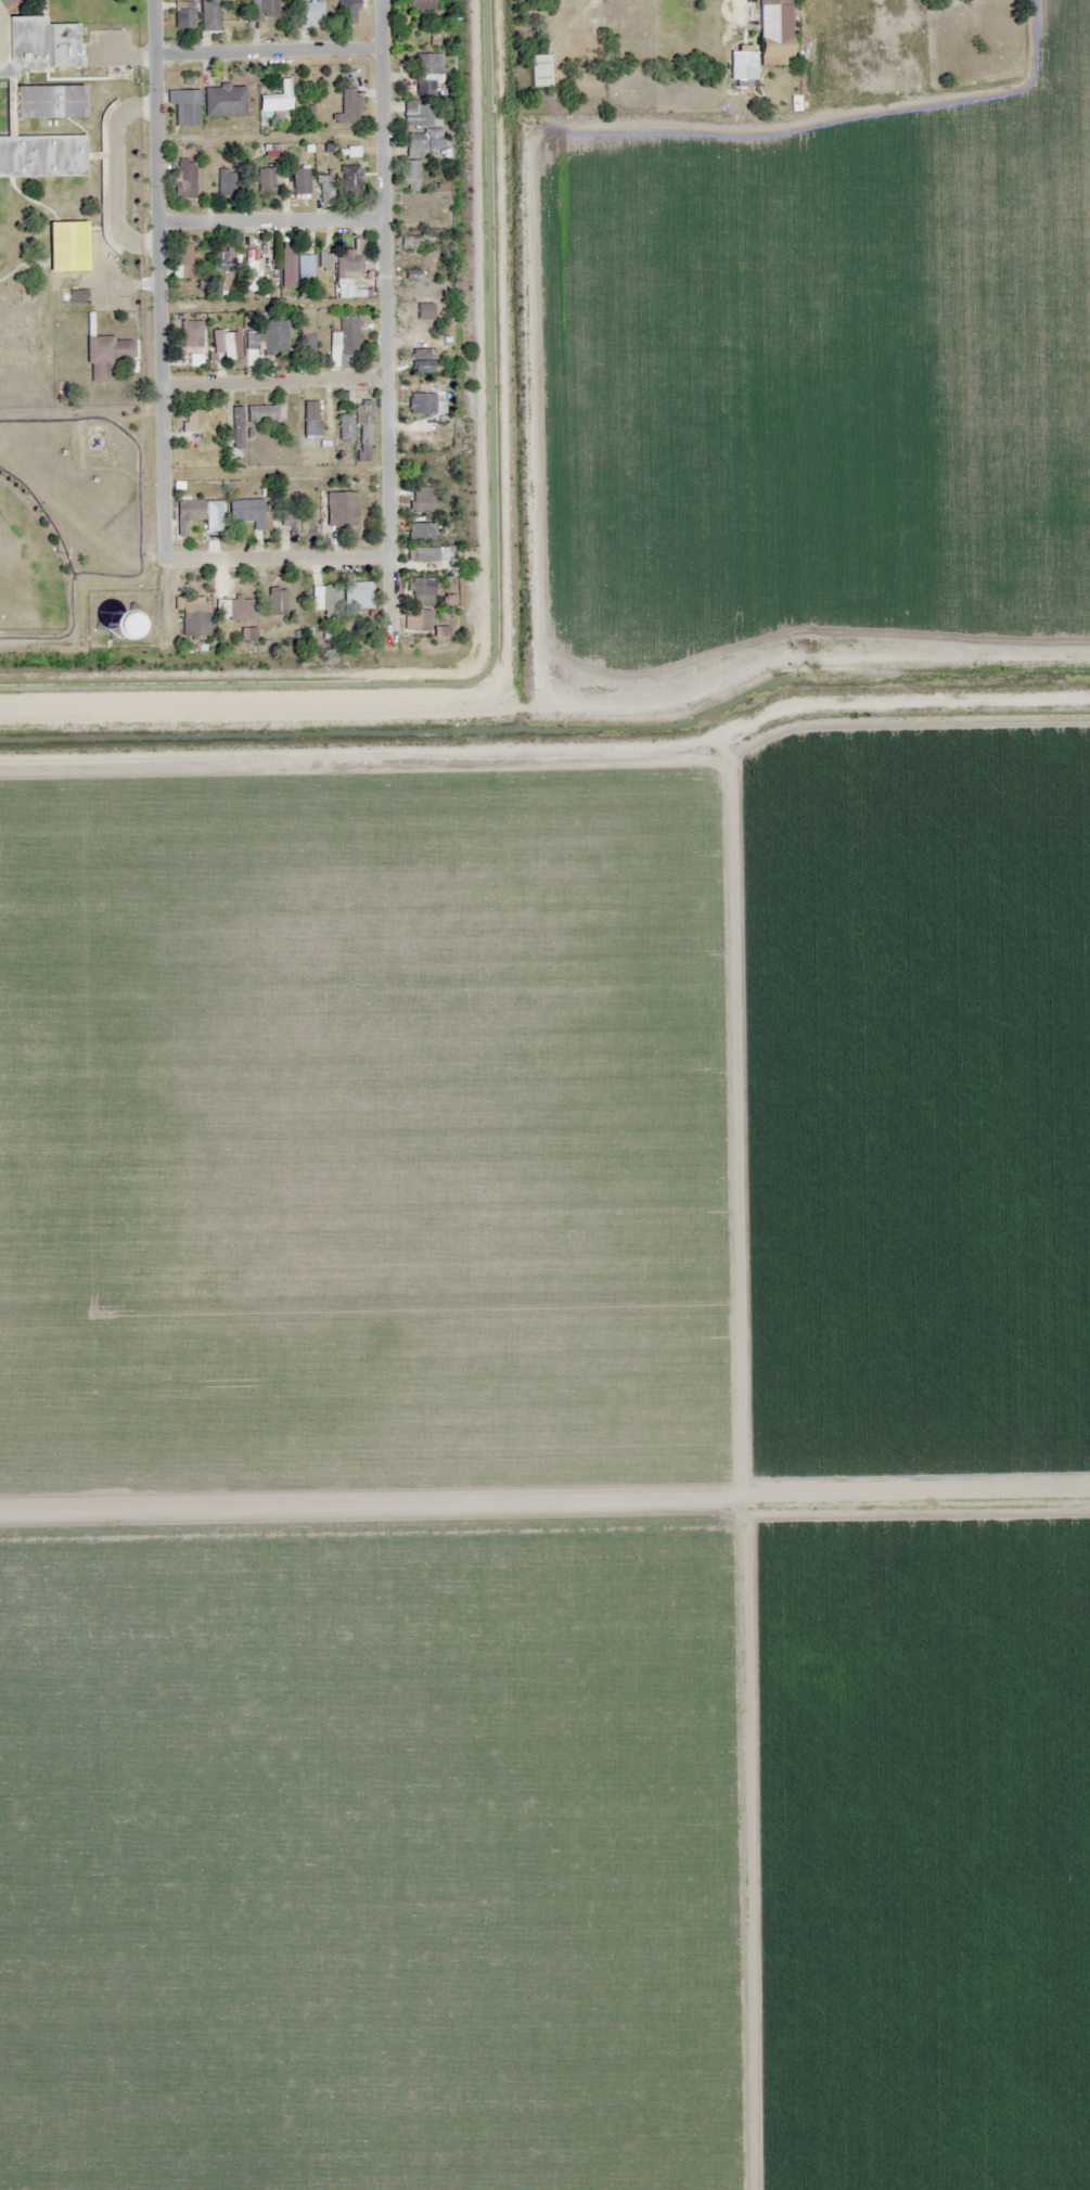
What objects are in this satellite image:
building: (772, 3)
building: (420, 4)
building: (261, 9)
building: (346, 11)
building: (309, 14)
building: (182, 15)
building: (208, 15)
building: (36, 44)
building: (773, 44)
road: (267, 51)
building: (742, 65)
building: (537, 69)
building: (426, 73)
building: (279, 98)
building: (223, 100)
building: (46, 101)
building: (183, 105)
building: (347, 106)
building: (415, 113)
building: (422, 140)
building: (40, 155)
building: (409, 175)
building: (183, 178)
building: (264, 178)
building: (349, 178)
building: (299, 180)
building: (226, 181)
building: (323, 188)
road: (269, 220)
building: (415, 242)
building: (65, 245)
building: (220, 258)
building: (181, 259)
building: (347, 260)
building: (286, 262)
building: (251, 268)
building: (304, 268)
road: (157, 279)
road: (386, 316)
building: (47, 332)
building: (269, 337)
building: (303, 338)
building: (226, 342)
building: (343, 343)
building: (192, 344)
building: (420, 349)
building: (104, 356)
building: (17, 357)
road: (273, 381)
building: (421, 402)
building: (362, 411)
building: (259, 413)
building: (309, 418)
building: (328, 421)
building: (192, 424)
building: (344, 426)
building: (234, 427)
building: (362, 451)
building: (427, 499)
building: (339, 509)
building: (245, 511)
building: (188, 513)
park: (66, 518)
building: (298, 524)
building: (420, 532)
building: (423, 553)
road: (277, 556)
park: (25, 568)
building: (419, 590)
building: (358, 594)
building: (325, 598)
building: (275, 601)
building: (238, 606)
building: (193, 616)
building: (419, 619)
building: (93, 627)
road: (544, 1508)

